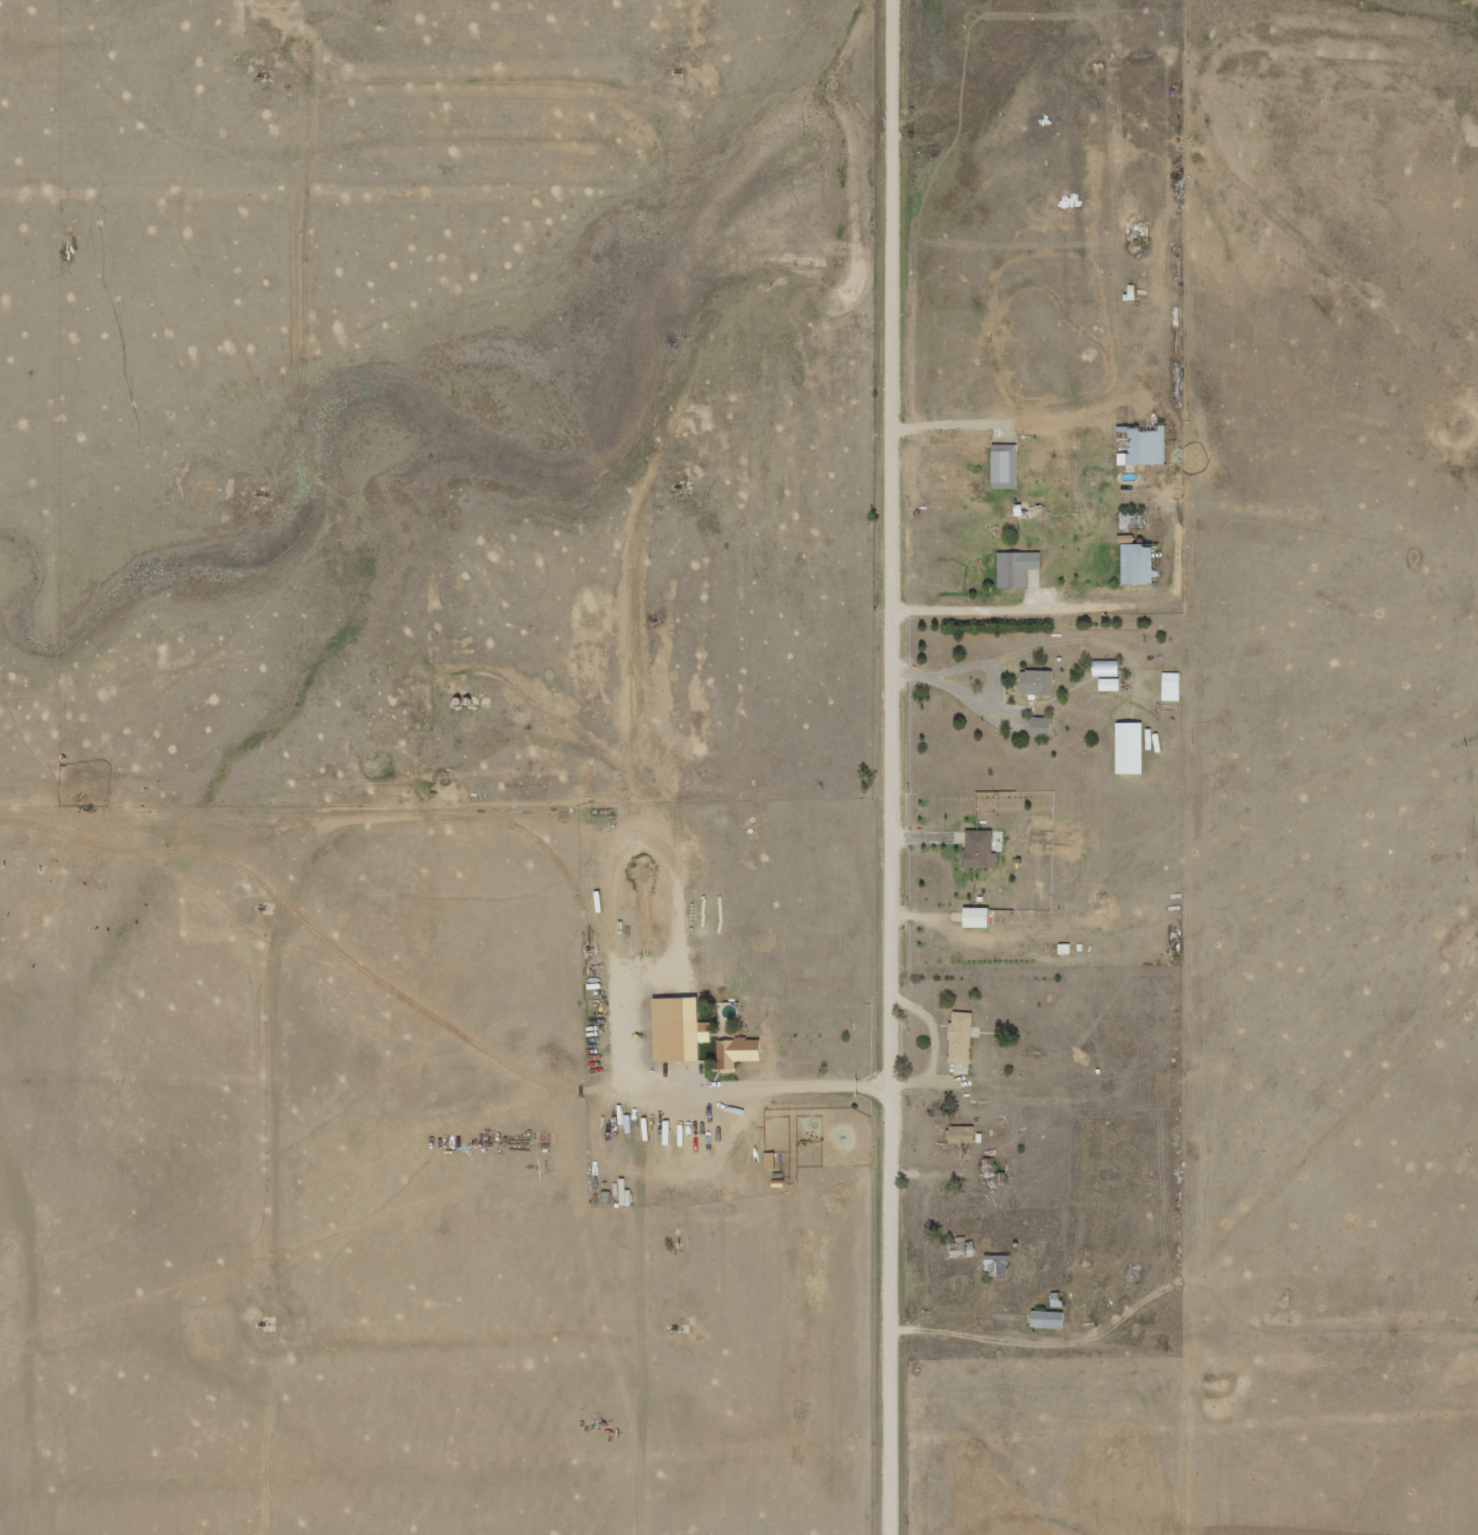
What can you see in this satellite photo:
road: (900, 30)
road: (900, 96)
building: (1144, 447)
building: (1004, 469)
building: (1137, 563)
building: (1020, 567)
building: (1036, 681)
building: (1108, 684)
building: (1171, 686)
building: (1040, 726)
building: (1129, 747)
road: (898, 833)
building: (979, 848)
building: (975, 917)
building: (678, 1029)
building: (961, 1037)
building: (737, 1051)
road: (785, 1100)
building: (962, 1135)
building: (997, 1265)
building: (1047, 1319)
road: (1001, 1355)

